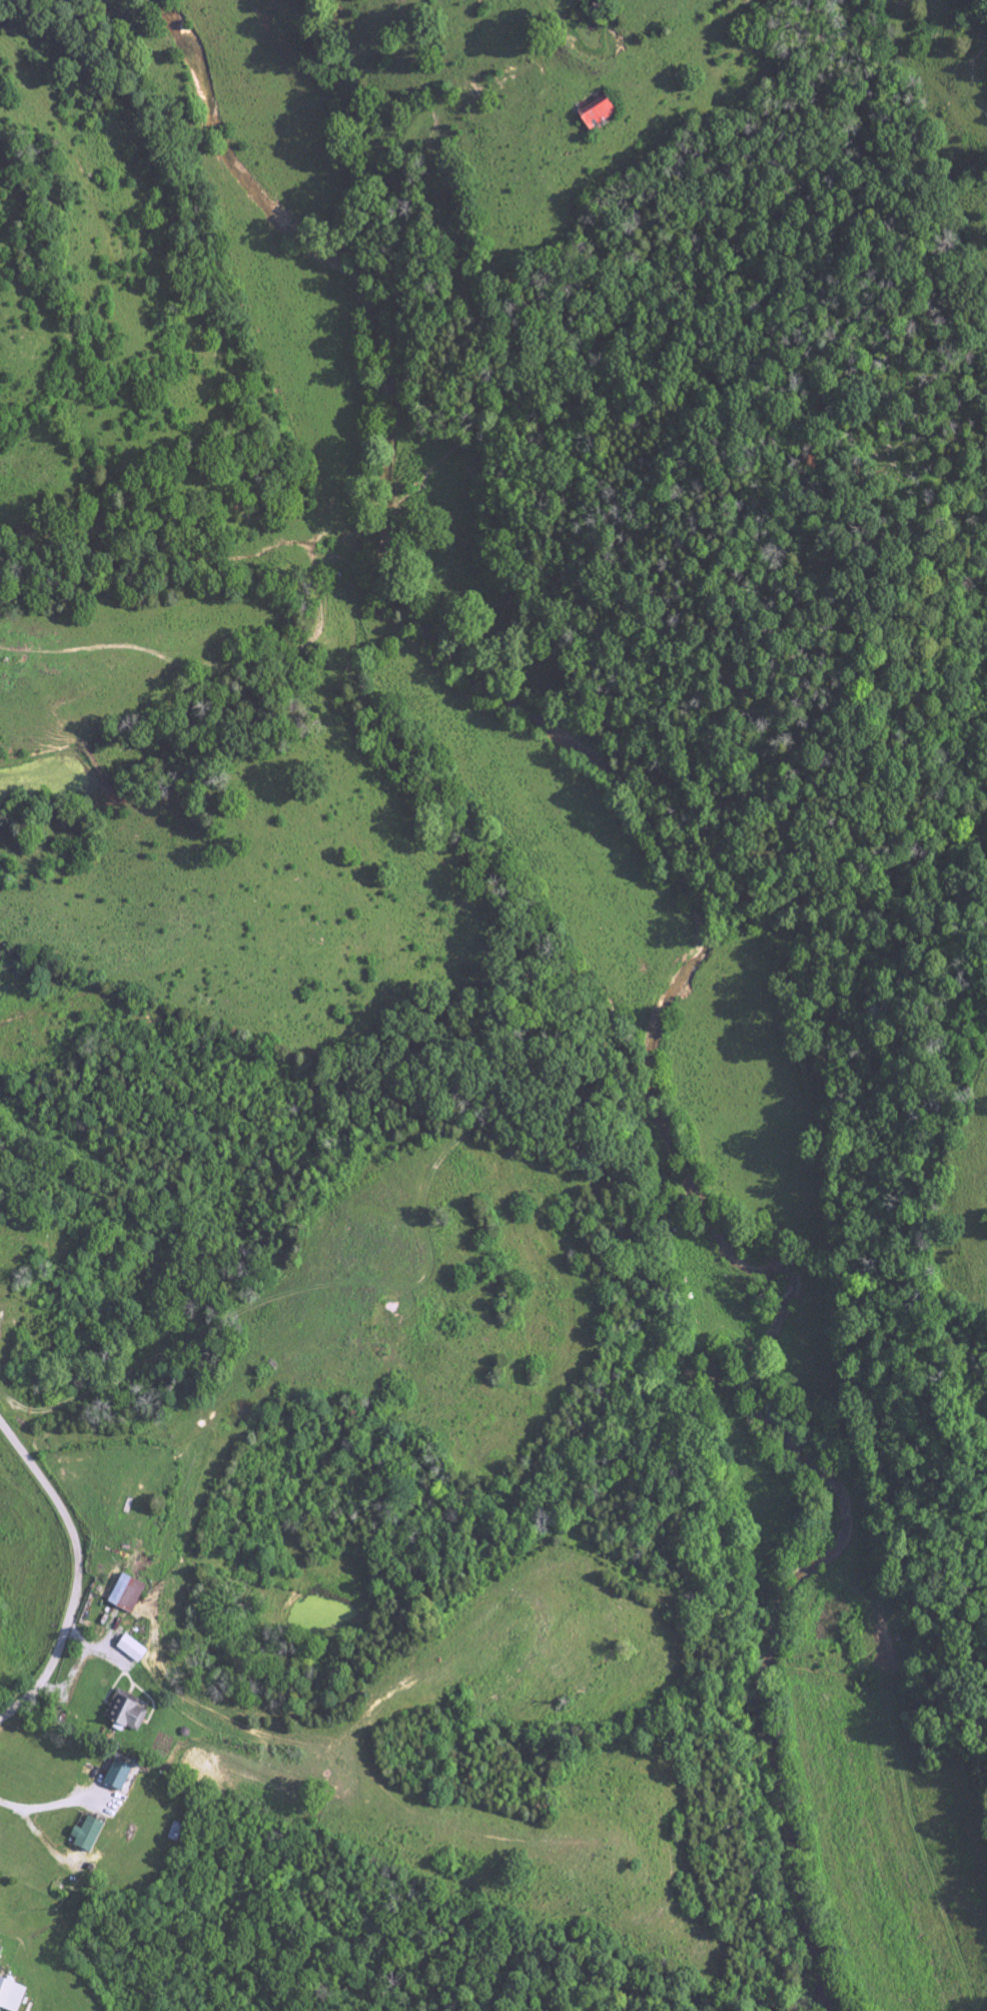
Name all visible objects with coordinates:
building: (597, 114)
road: (78, 1573)
building: (126, 1593)
building: (131, 1648)
building: (125, 1711)
building: (117, 1775)
road: (37, 1808)
building: (86, 1835)
building: (11, 1995)

